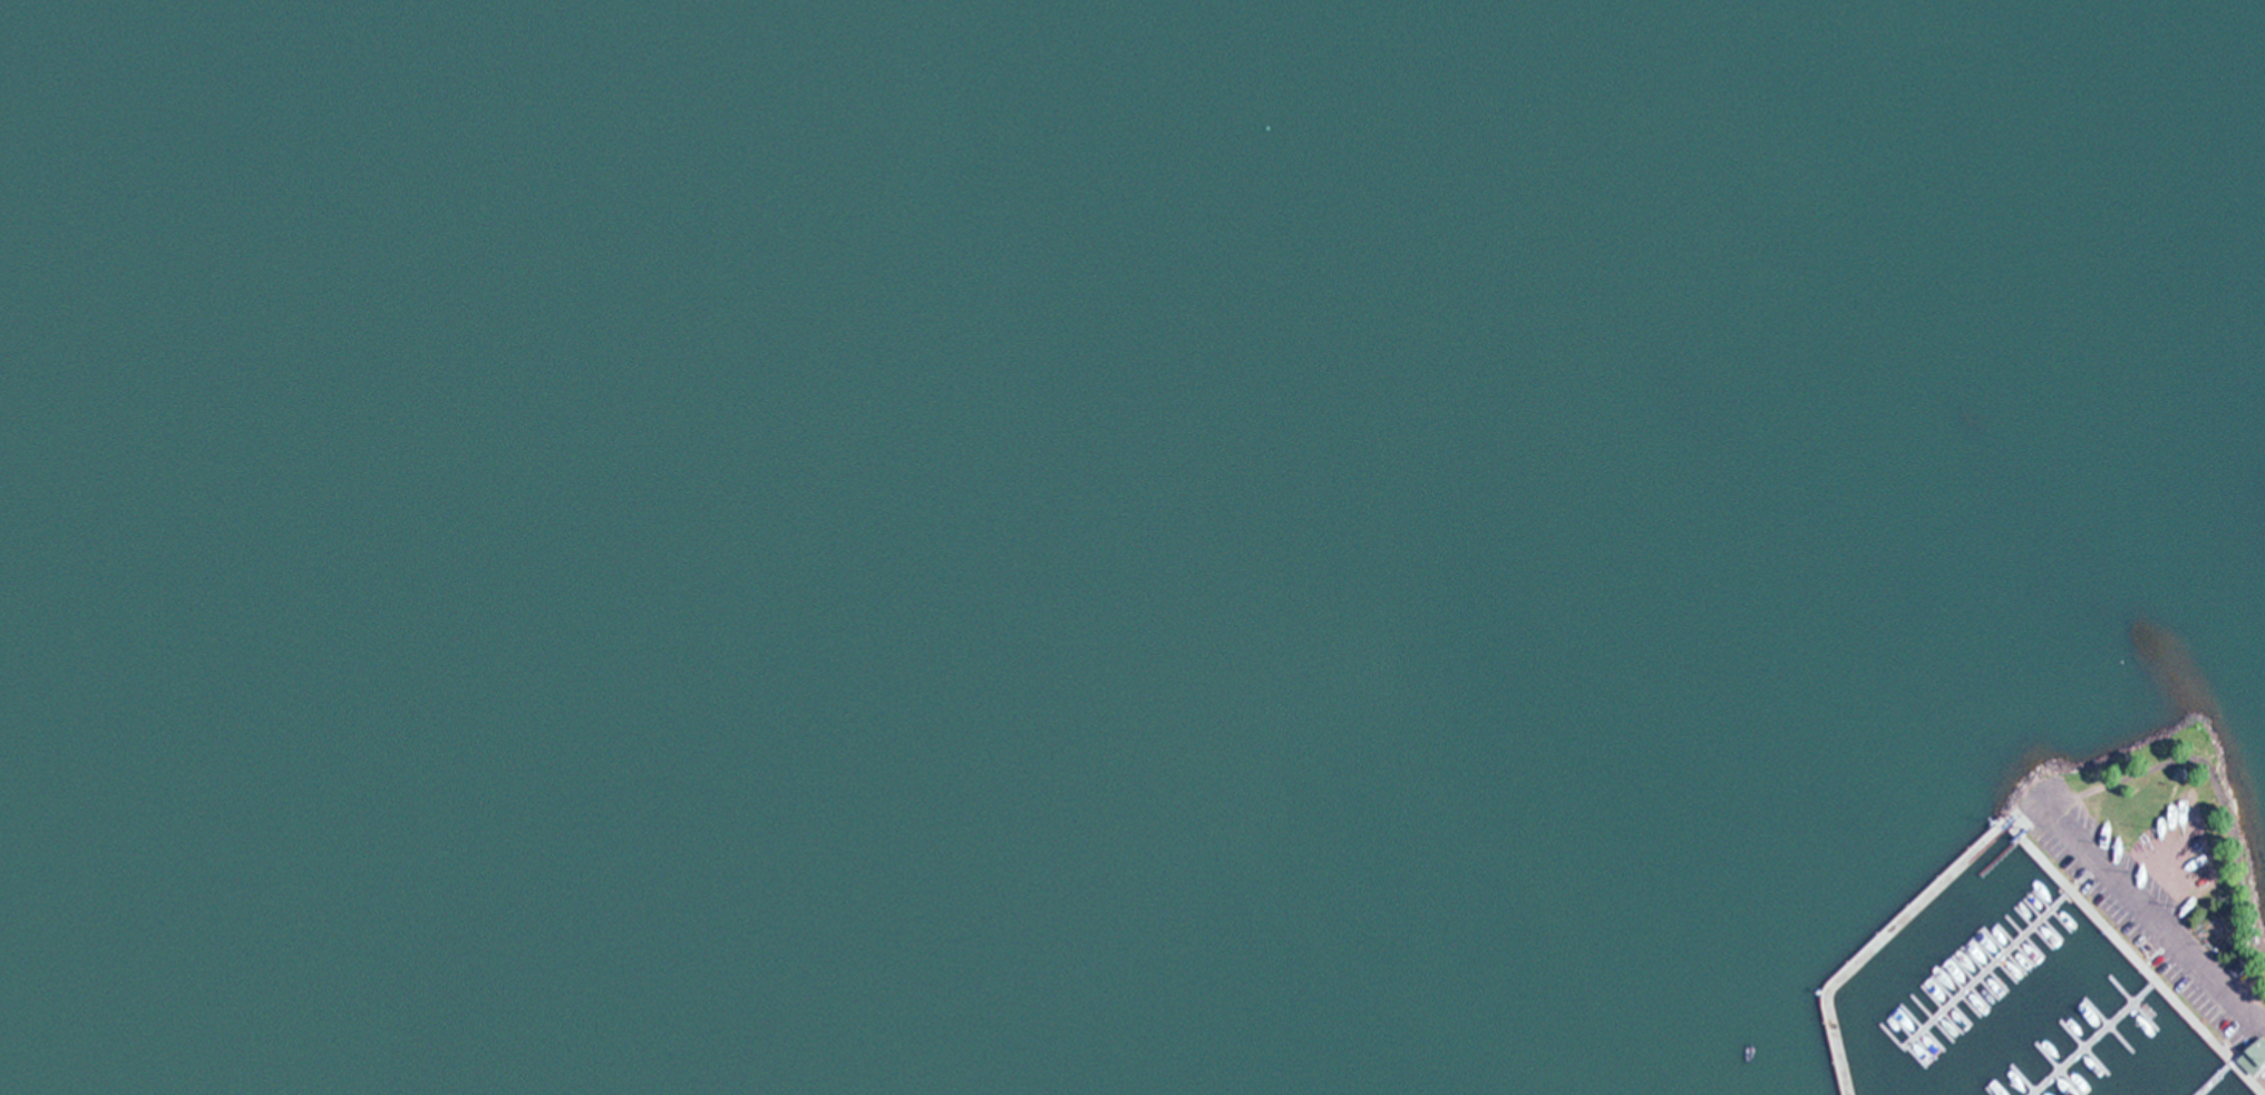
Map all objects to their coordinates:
road: (2028, 818)
park: (2161, 872)
parking lot: (2162, 903)
road: (2156, 908)
pier: (1876, 946)
pier: (1979, 980)
pier: (2097, 1038)
building: (2255, 1057)
pier: (2217, 1079)

